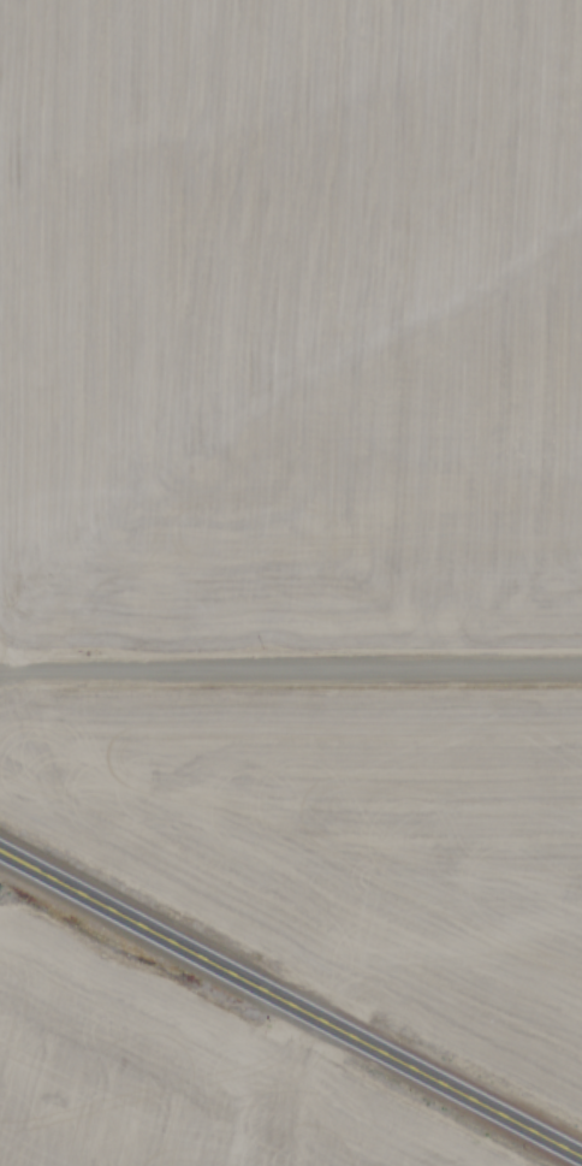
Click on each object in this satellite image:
road: (291, 673)
road: (290, 995)

